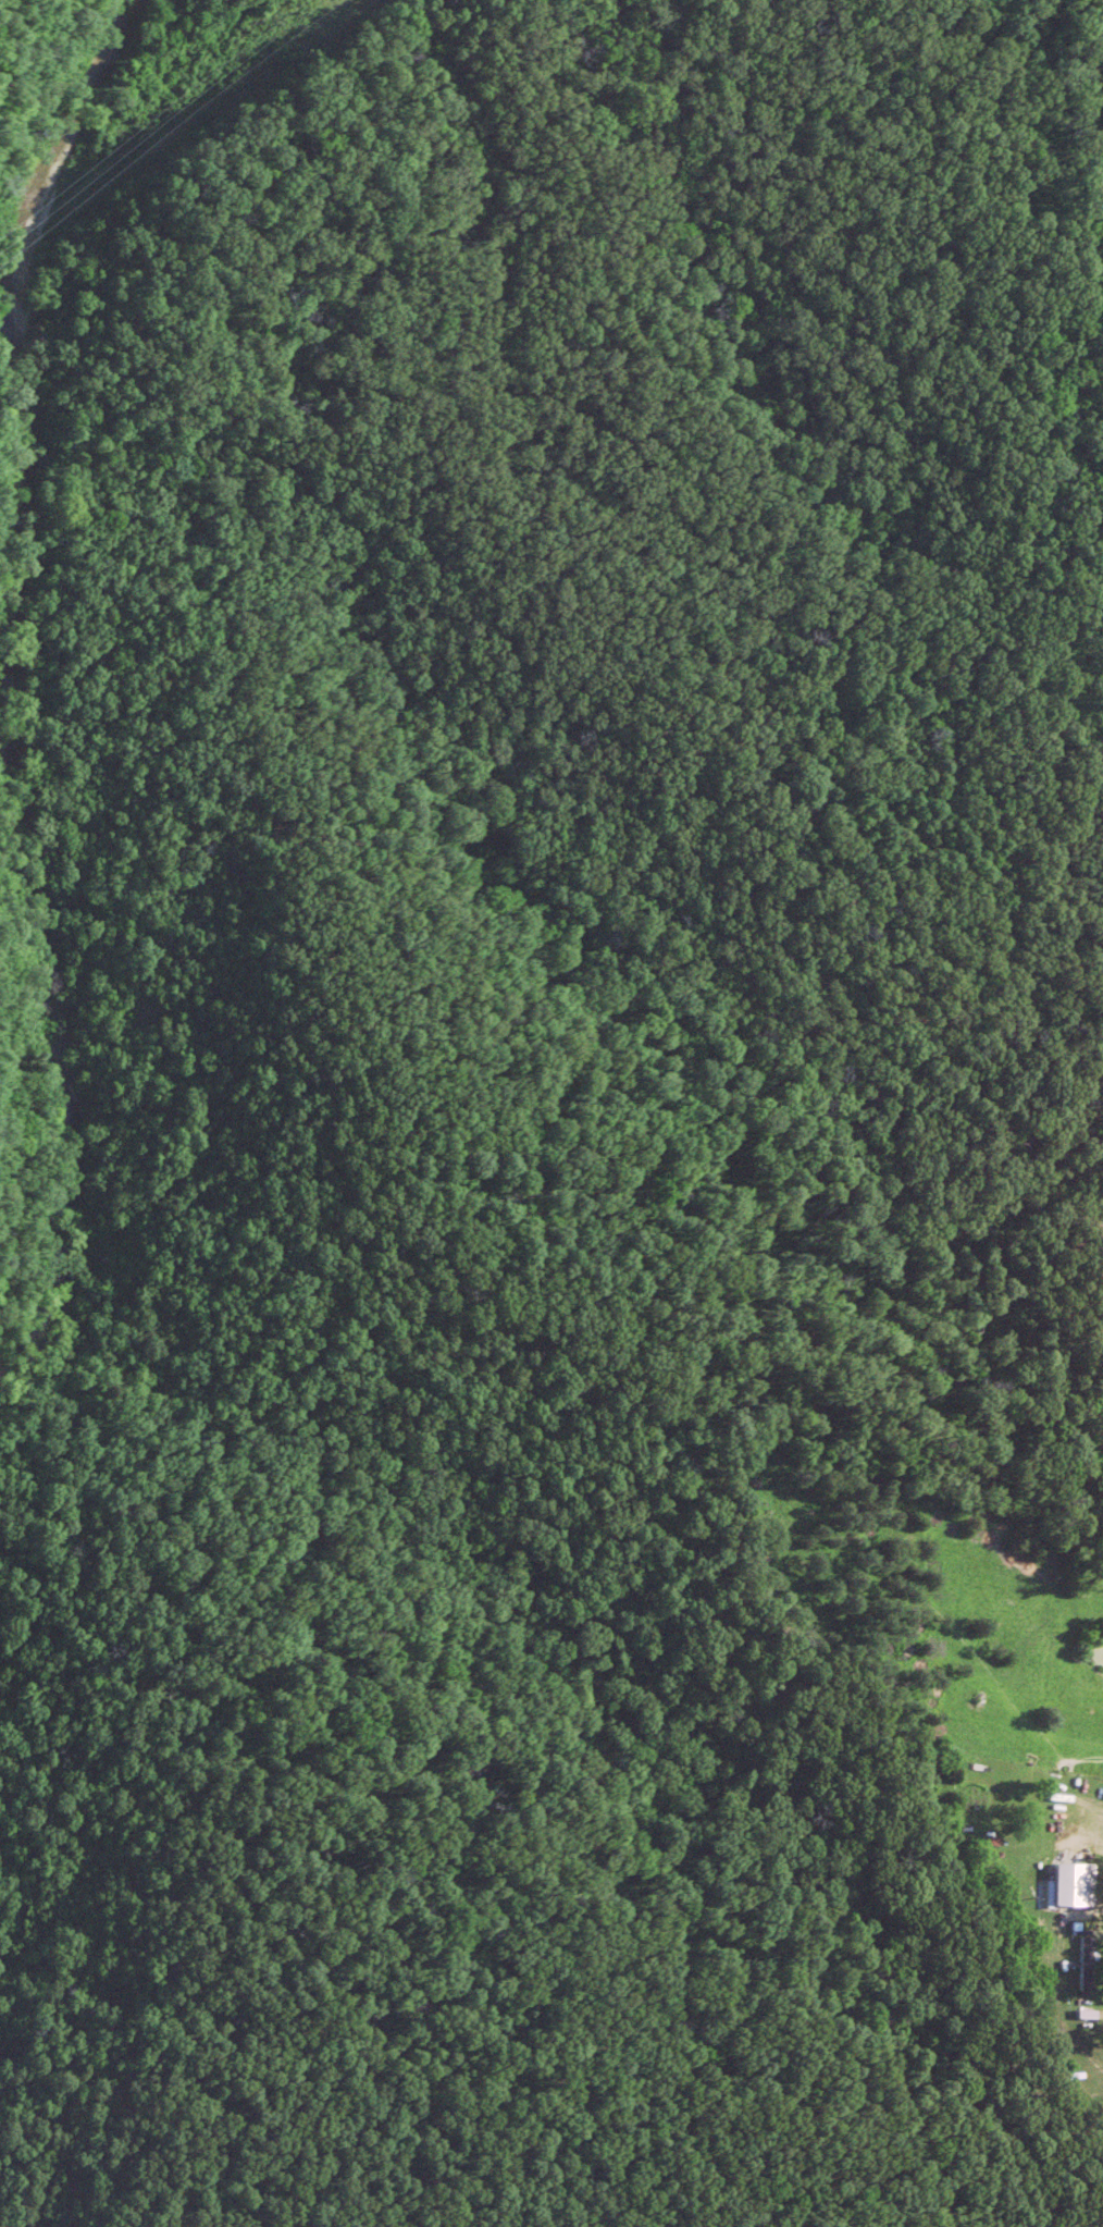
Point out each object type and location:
building: (1077, 1884)

